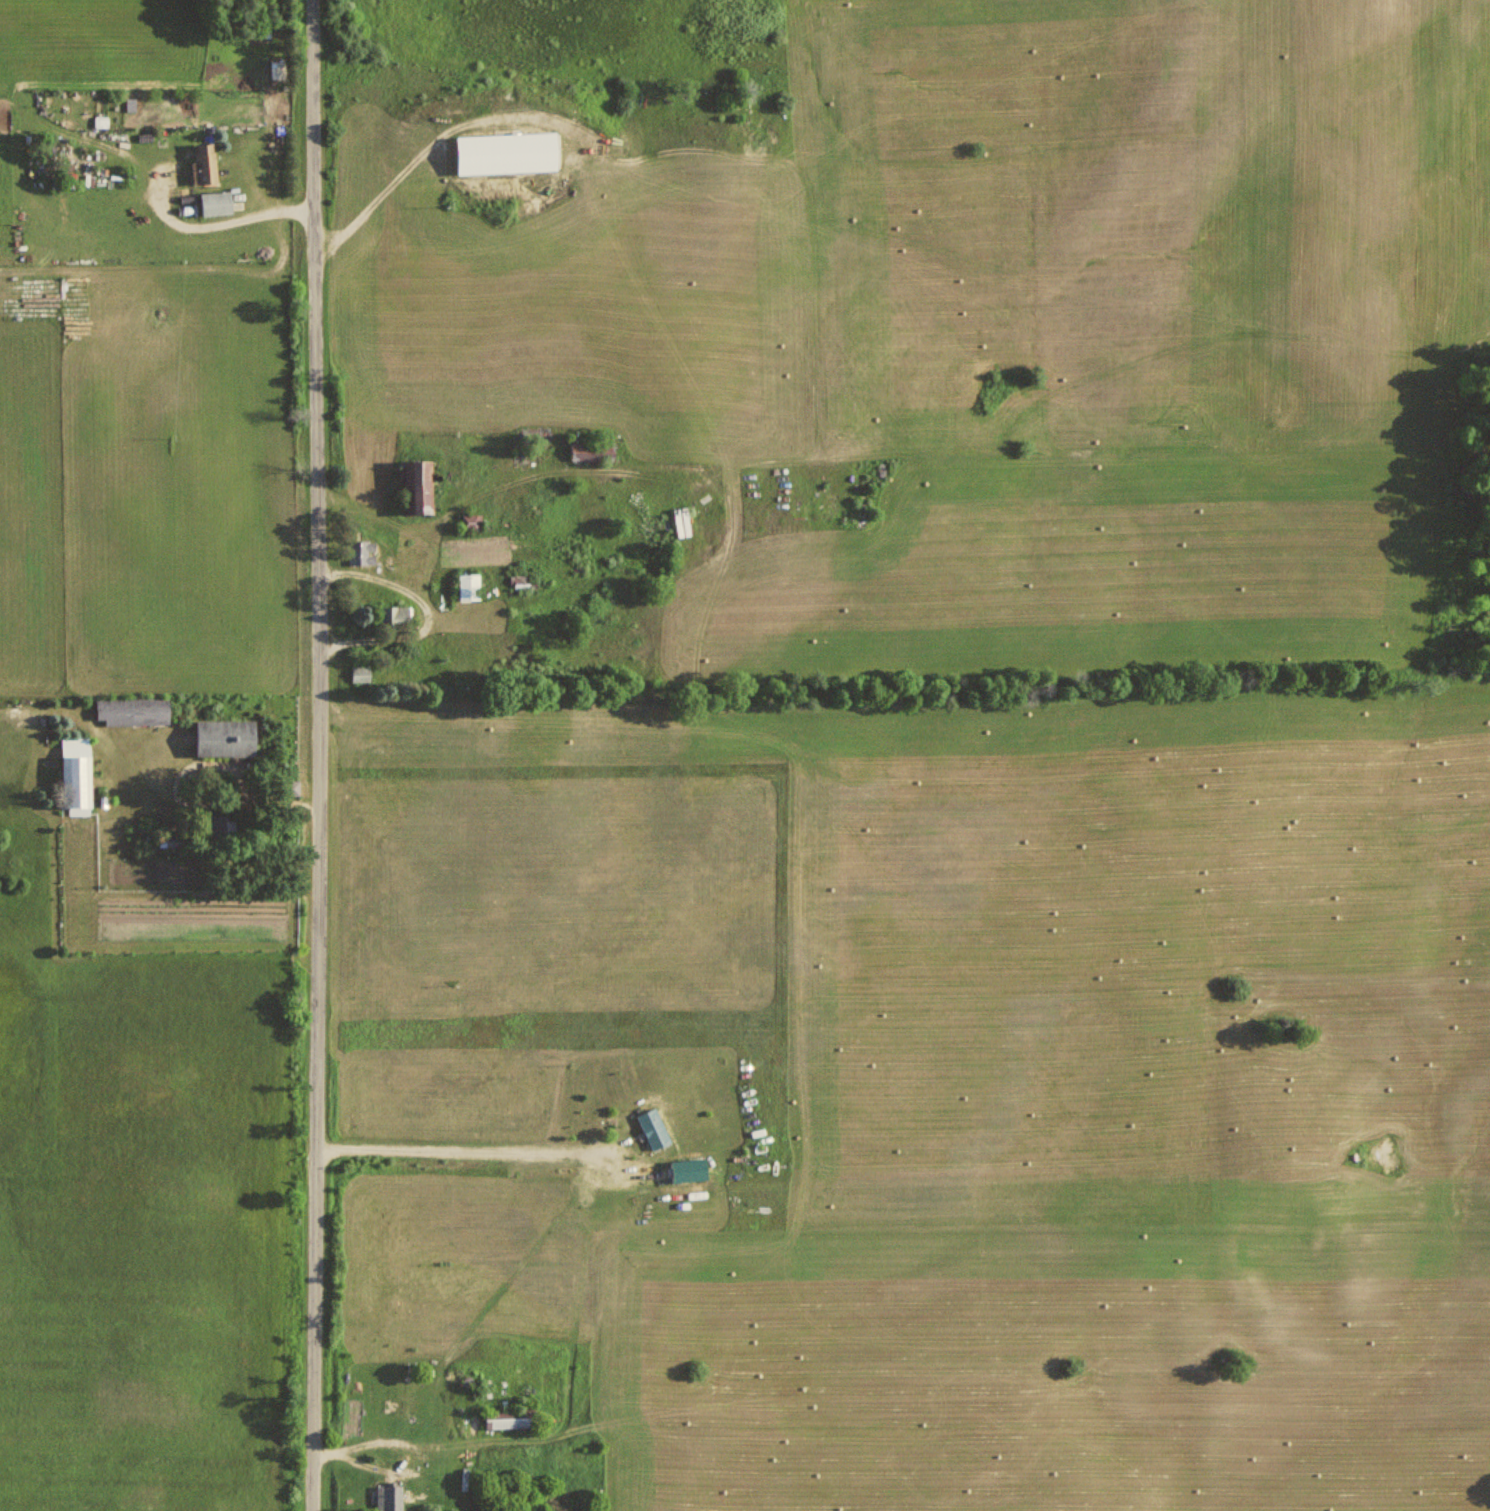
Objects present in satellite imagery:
building: (279, 68)
building: (511, 153)
building: (206, 165)
building: (220, 203)
building: (595, 451)
building: (424, 487)
building: (473, 522)
building: (684, 522)
building: (364, 552)
building: (471, 587)
building: (398, 618)
building: (363, 674)
building: (135, 710)
building: (230, 737)
road: (301, 755)
building: (81, 774)
building: (656, 1128)
building: (515, 1418)
building: (391, 1498)

